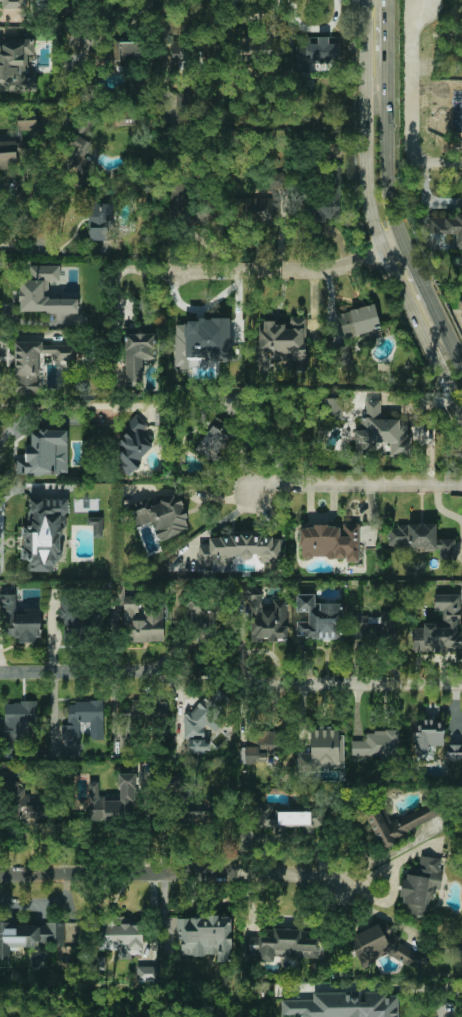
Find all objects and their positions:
building: (14, 4)
road: (7, 20)
road: (386, 31)
building: (251, 47)
building: (316, 52)
building: (121, 53)
building: (188, 55)
building: (15, 66)
road: (412, 87)
building: (27, 124)
building: (8, 154)
building: (75, 154)
road: (386, 154)
road: (443, 162)
road: (428, 195)
building: (325, 208)
building: (260, 210)
building: (99, 221)
road: (371, 222)
building: (446, 226)
road: (13, 227)
road: (286, 271)
road: (415, 272)
building: (43, 292)
building: (461, 302)
road: (461, 318)
building: (359, 321)
road: (446, 332)
building: (201, 341)
building: (137, 355)
building: (342, 355)
building: (35, 362)
road: (67, 404)
building: (333, 407)
building: (382, 432)
building: (213, 441)
building: (134, 444)
building: (45, 453)
road: (354, 482)
building: (163, 515)
building: (96, 526)
building: (44, 534)
building: (420, 539)
building: (330, 542)
building: (238, 550)
building: (265, 615)
building: (319, 619)
building: (19, 621)
building: (143, 621)
building: (374, 625)
building: (444, 626)
road: (77, 671)
road: (350, 683)
building: (160, 712)
building: (131, 713)
building: (18, 724)
building: (71, 732)
building: (428, 738)
building: (377, 744)
building: (265, 746)
building: (323, 751)
building: (454, 752)
building: (174, 784)
building: (113, 801)
building: (23, 805)
building: (197, 811)
building: (266, 815)
building: (297, 821)
building: (398, 822)
road: (385, 855)
road: (169, 874)
building: (421, 885)
building: (28, 936)
building: (205, 937)
building: (123, 938)
building: (283, 944)
building: (386, 946)
building: (147, 974)
building: (344, 1006)

